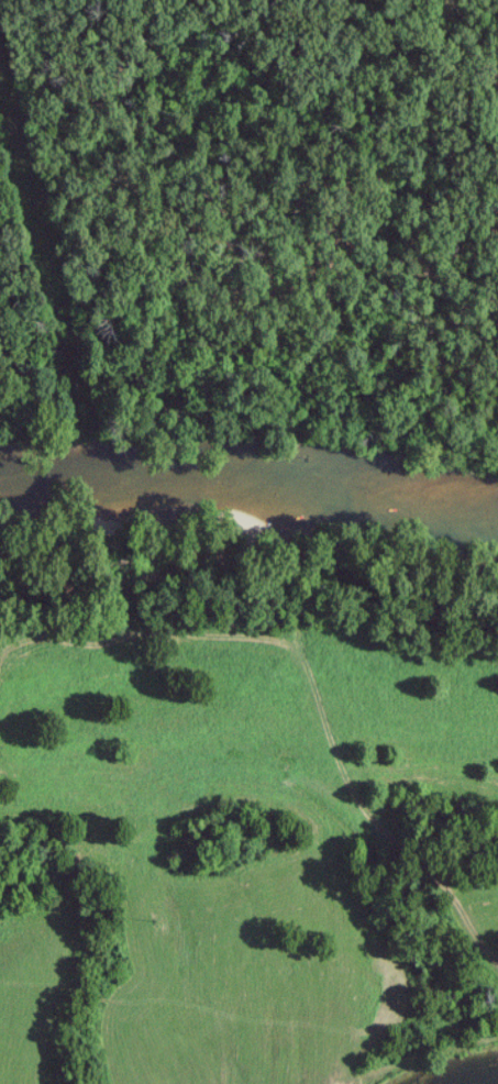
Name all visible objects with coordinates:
river: (248, 480)

